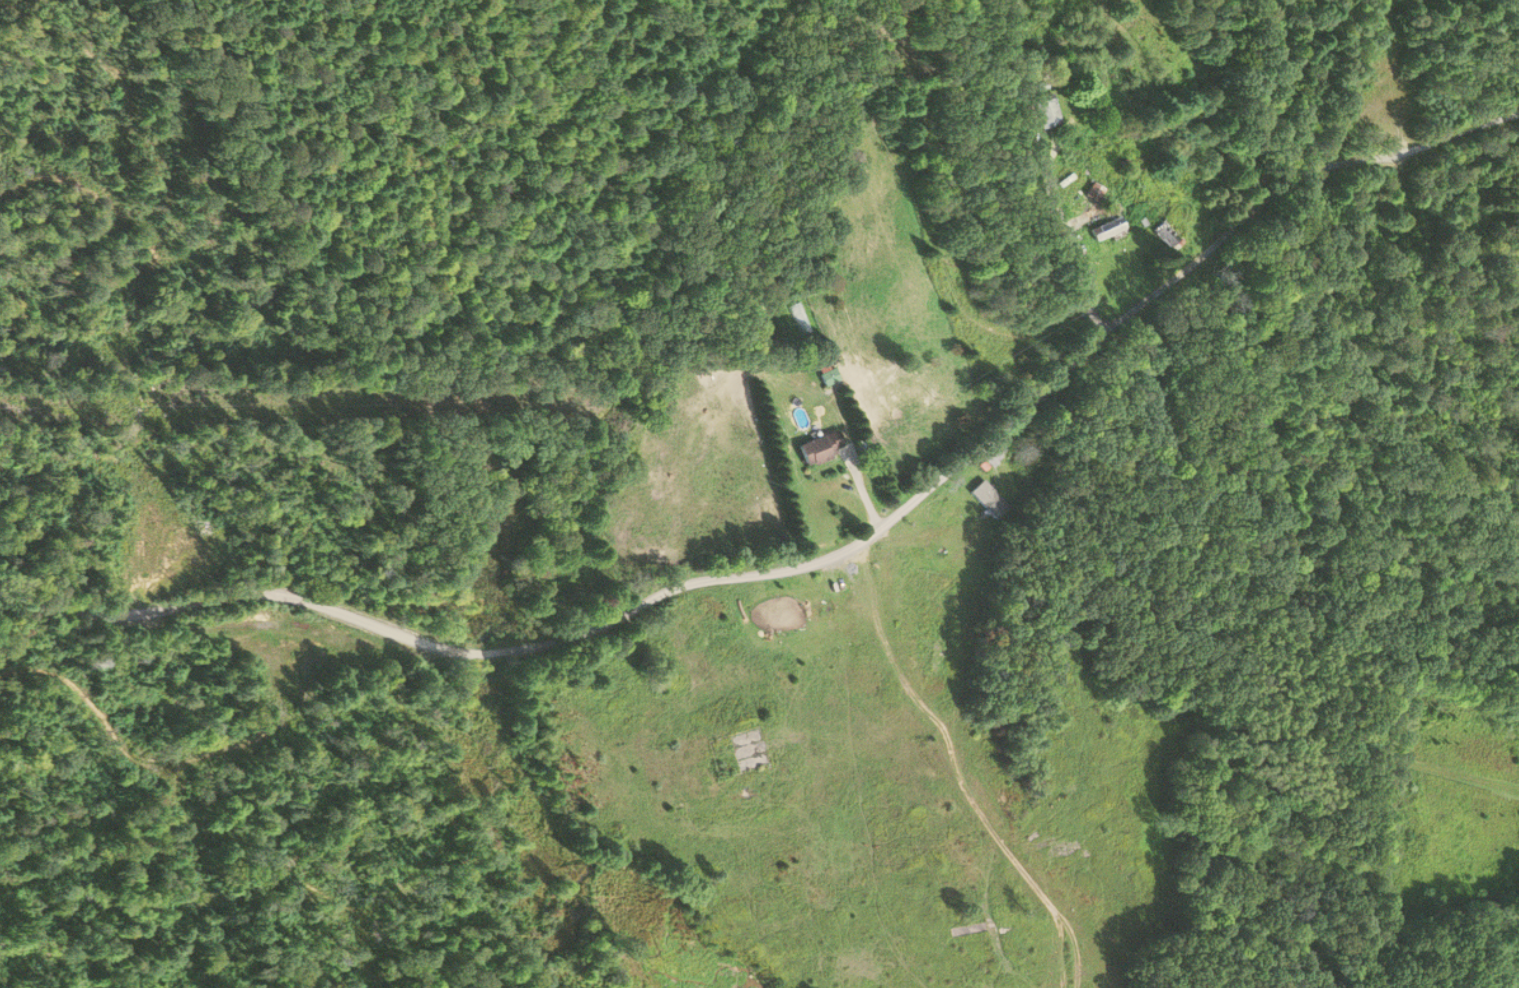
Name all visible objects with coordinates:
building: (1047, 113)
building: (1094, 192)
building: (1107, 229)
building: (1166, 237)
road: (1159, 281)
building: (828, 377)
building: (820, 449)
road: (430, 649)
road: (957, 774)

